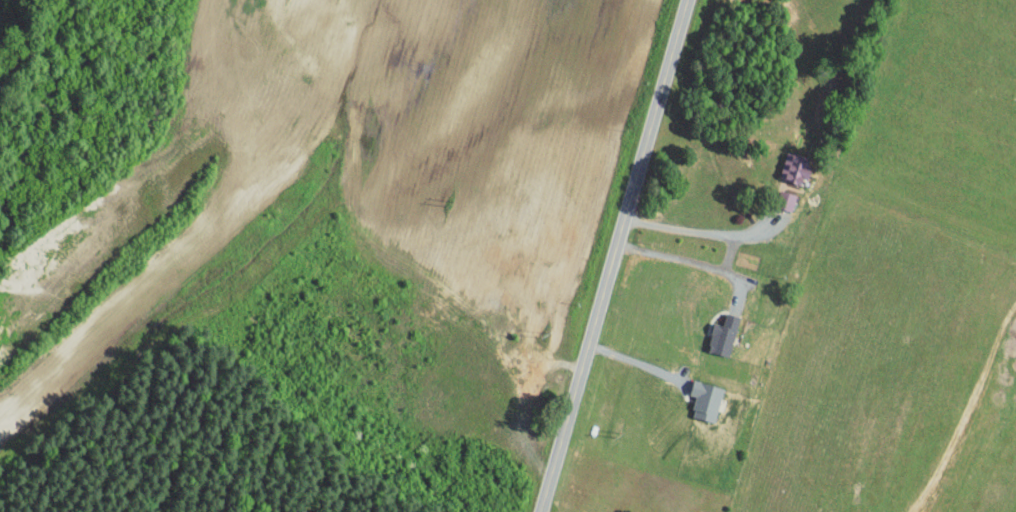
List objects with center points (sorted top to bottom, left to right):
building: (785, 161)
power tower: (450, 203)
road: (700, 232)
road: (615, 256)
road: (680, 258)
building: (712, 329)
power tower: (546, 335)
road: (636, 363)
building: (696, 393)
power tower: (618, 435)
road: (668, 439)
road: (392, 494)

